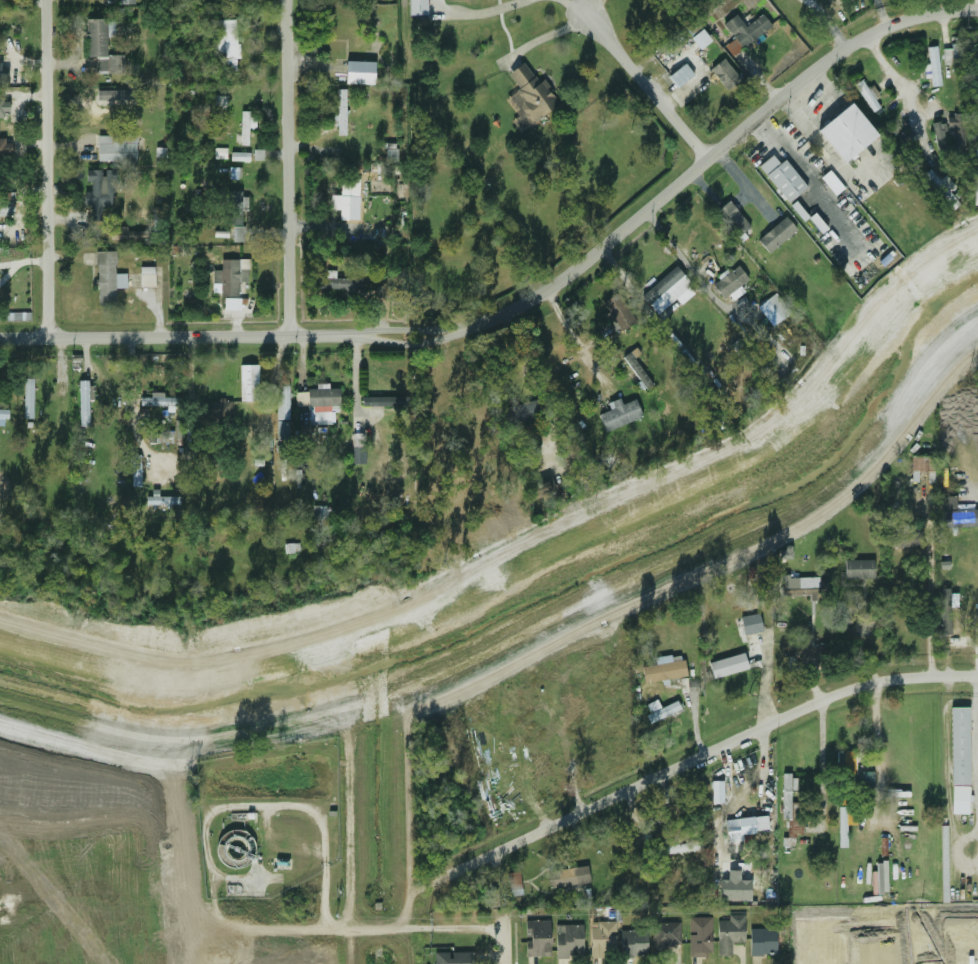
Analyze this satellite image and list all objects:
building: (231, 0)
building: (125, 1)
road: (976, 4)
building: (417, 7)
road: (575, 7)
road: (483, 13)
building: (744, 29)
building: (94, 38)
building: (700, 38)
building: (225, 44)
building: (356, 51)
building: (951, 56)
building: (931, 63)
building: (114, 64)
building: (724, 74)
building: (680, 75)
road: (650, 85)
road: (903, 88)
building: (530, 91)
building: (866, 94)
building: (4, 106)
building: (340, 112)
building: (954, 124)
building: (244, 126)
building: (848, 133)
building: (939, 137)
building: (116, 147)
building: (5, 148)
building: (910, 149)
building: (219, 153)
road: (717, 153)
building: (239, 156)
road: (828, 157)
building: (976, 161)
road: (284, 168)
road: (46, 169)
building: (782, 177)
road: (747, 179)
building: (941, 186)
building: (975, 190)
building: (94, 193)
building: (344, 195)
building: (6, 204)
building: (232, 207)
building: (975, 215)
building: (730, 217)
building: (776, 234)
road: (685, 264)
building: (105, 276)
building: (146, 276)
building: (228, 277)
building: (729, 281)
building: (332, 283)
building: (666, 288)
building: (384, 291)
building: (617, 309)
road: (409, 330)
road: (175, 337)
road: (409, 341)
road: (574, 341)
building: (636, 369)
building: (248, 382)
building: (27, 401)
building: (383, 401)
building: (162, 402)
building: (321, 403)
road: (130, 404)
building: (60, 408)
building: (82, 409)
building: (215, 409)
building: (281, 411)
building: (521, 411)
building: (3, 413)
building: (619, 413)
building: (188, 436)
building: (520, 453)
building: (357, 455)
building: (921, 468)
building: (134, 470)
building: (538, 490)
building: (161, 500)
building: (959, 517)
building: (901, 538)
building: (858, 569)
building: (800, 588)
river: (544, 599)
building: (948, 609)
building: (750, 623)
road: (951, 645)
building: (727, 665)
building: (663, 671)
road: (976, 706)
building: (660, 710)
road: (877, 722)
building: (959, 745)
road: (717, 749)
building: (848, 763)
road: (820, 764)
building: (716, 792)
building: (958, 801)
building: (790, 809)
building: (844, 823)
building: (745, 834)
building: (678, 847)
road: (958, 851)
building: (641, 863)
building: (944, 875)
building: (568, 876)
building: (879, 878)
building: (513, 881)
building: (733, 887)
road: (367, 929)
building: (729, 932)
building: (664, 936)
building: (699, 936)
building: (536, 937)
building: (602, 940)
building: (568, 941)
building: (762, 941)
building: (632, 942)
building: (452, 958)

